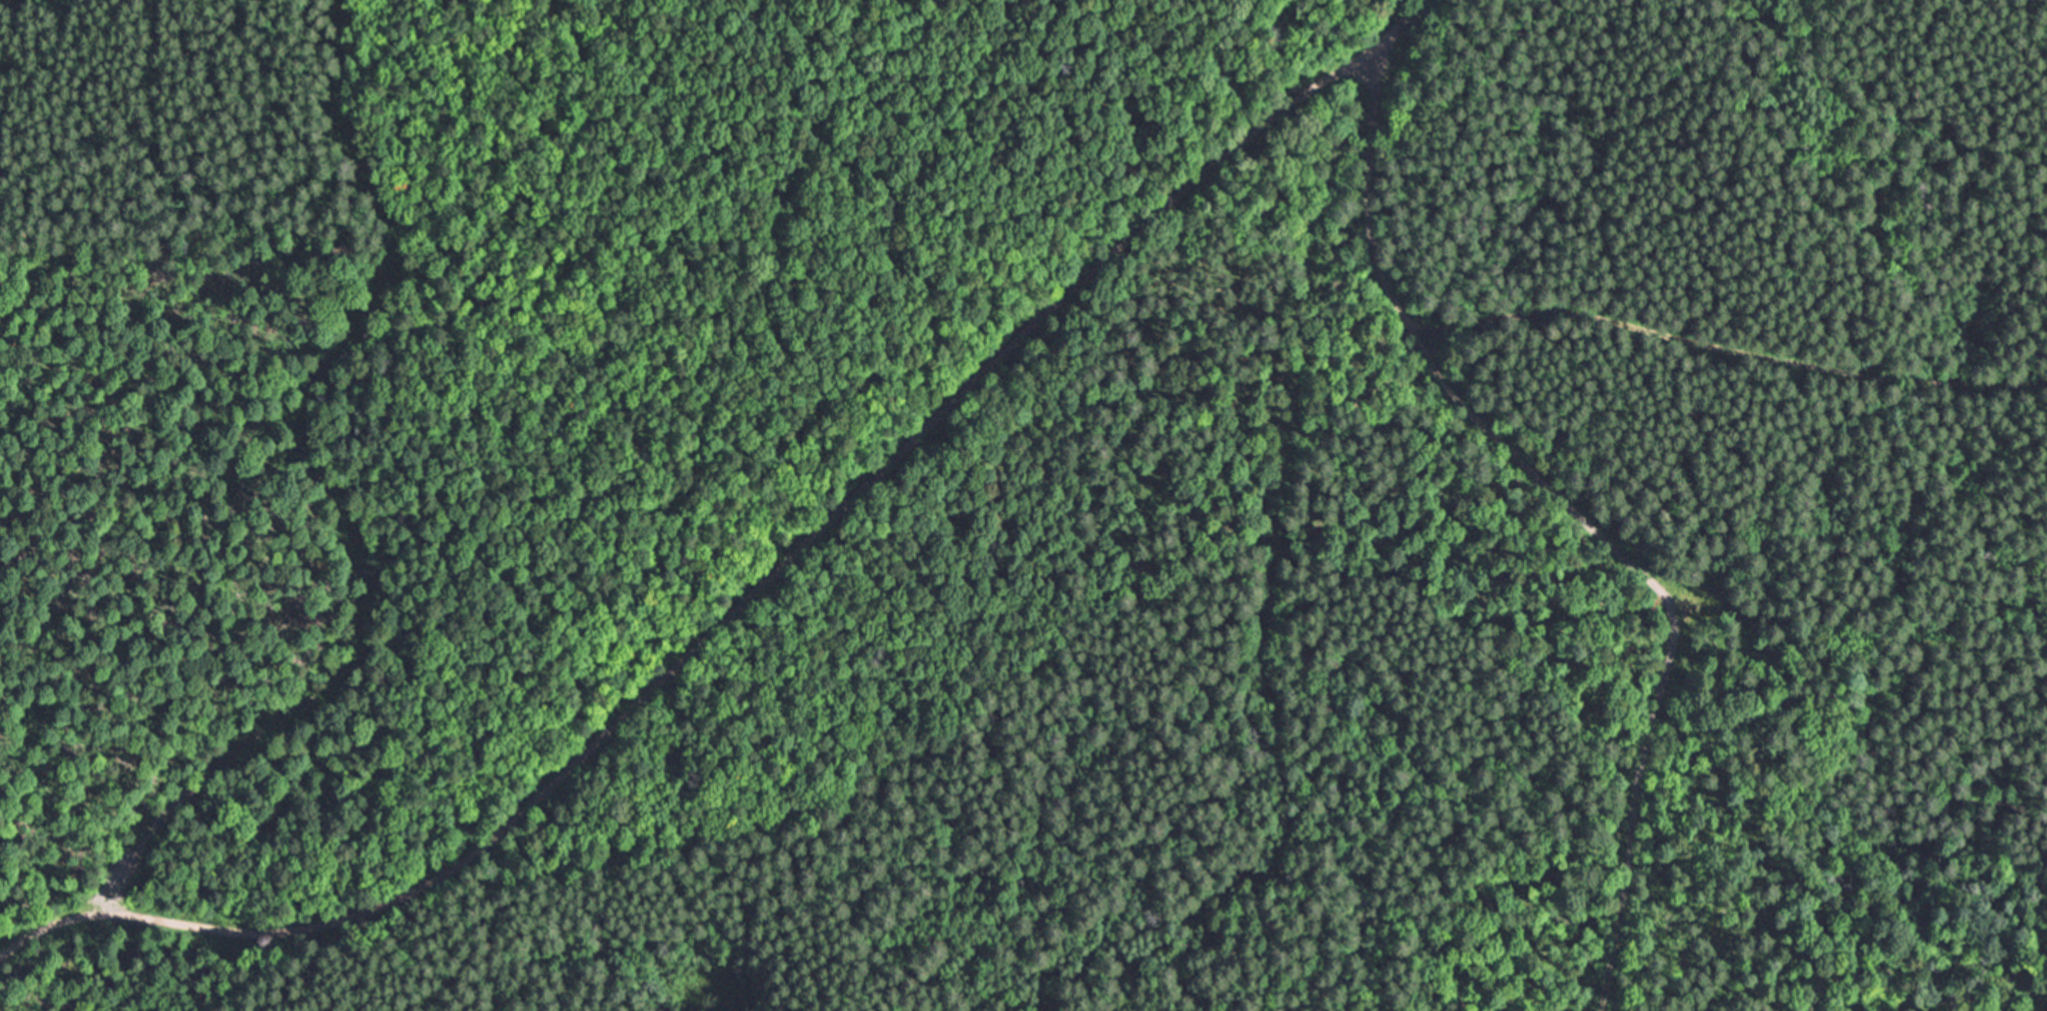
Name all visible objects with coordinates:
road: (1397, 25)
road: (1586, 325)
road: (731, 608)

